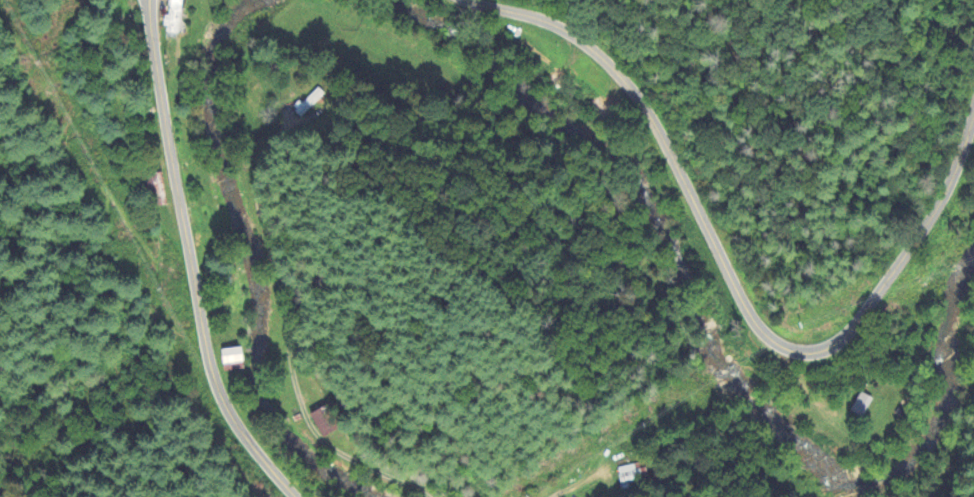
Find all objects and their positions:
building: (174, 20)
building: (310, 102)
building: (156, 191)
road: (185, 263)
road: (732, 284)
building: (233, 360)
building: (862, 405)
building: (327, 422)
building: (631, 474)

